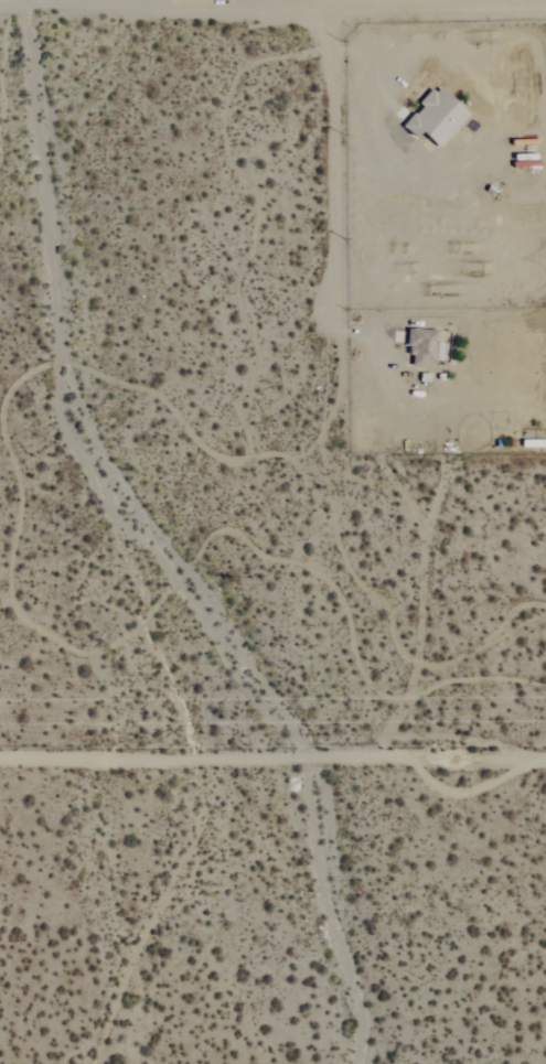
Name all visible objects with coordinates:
road: (272, 8)
building: (433, 118)
road: (354, 163)
road: (272, 767)

